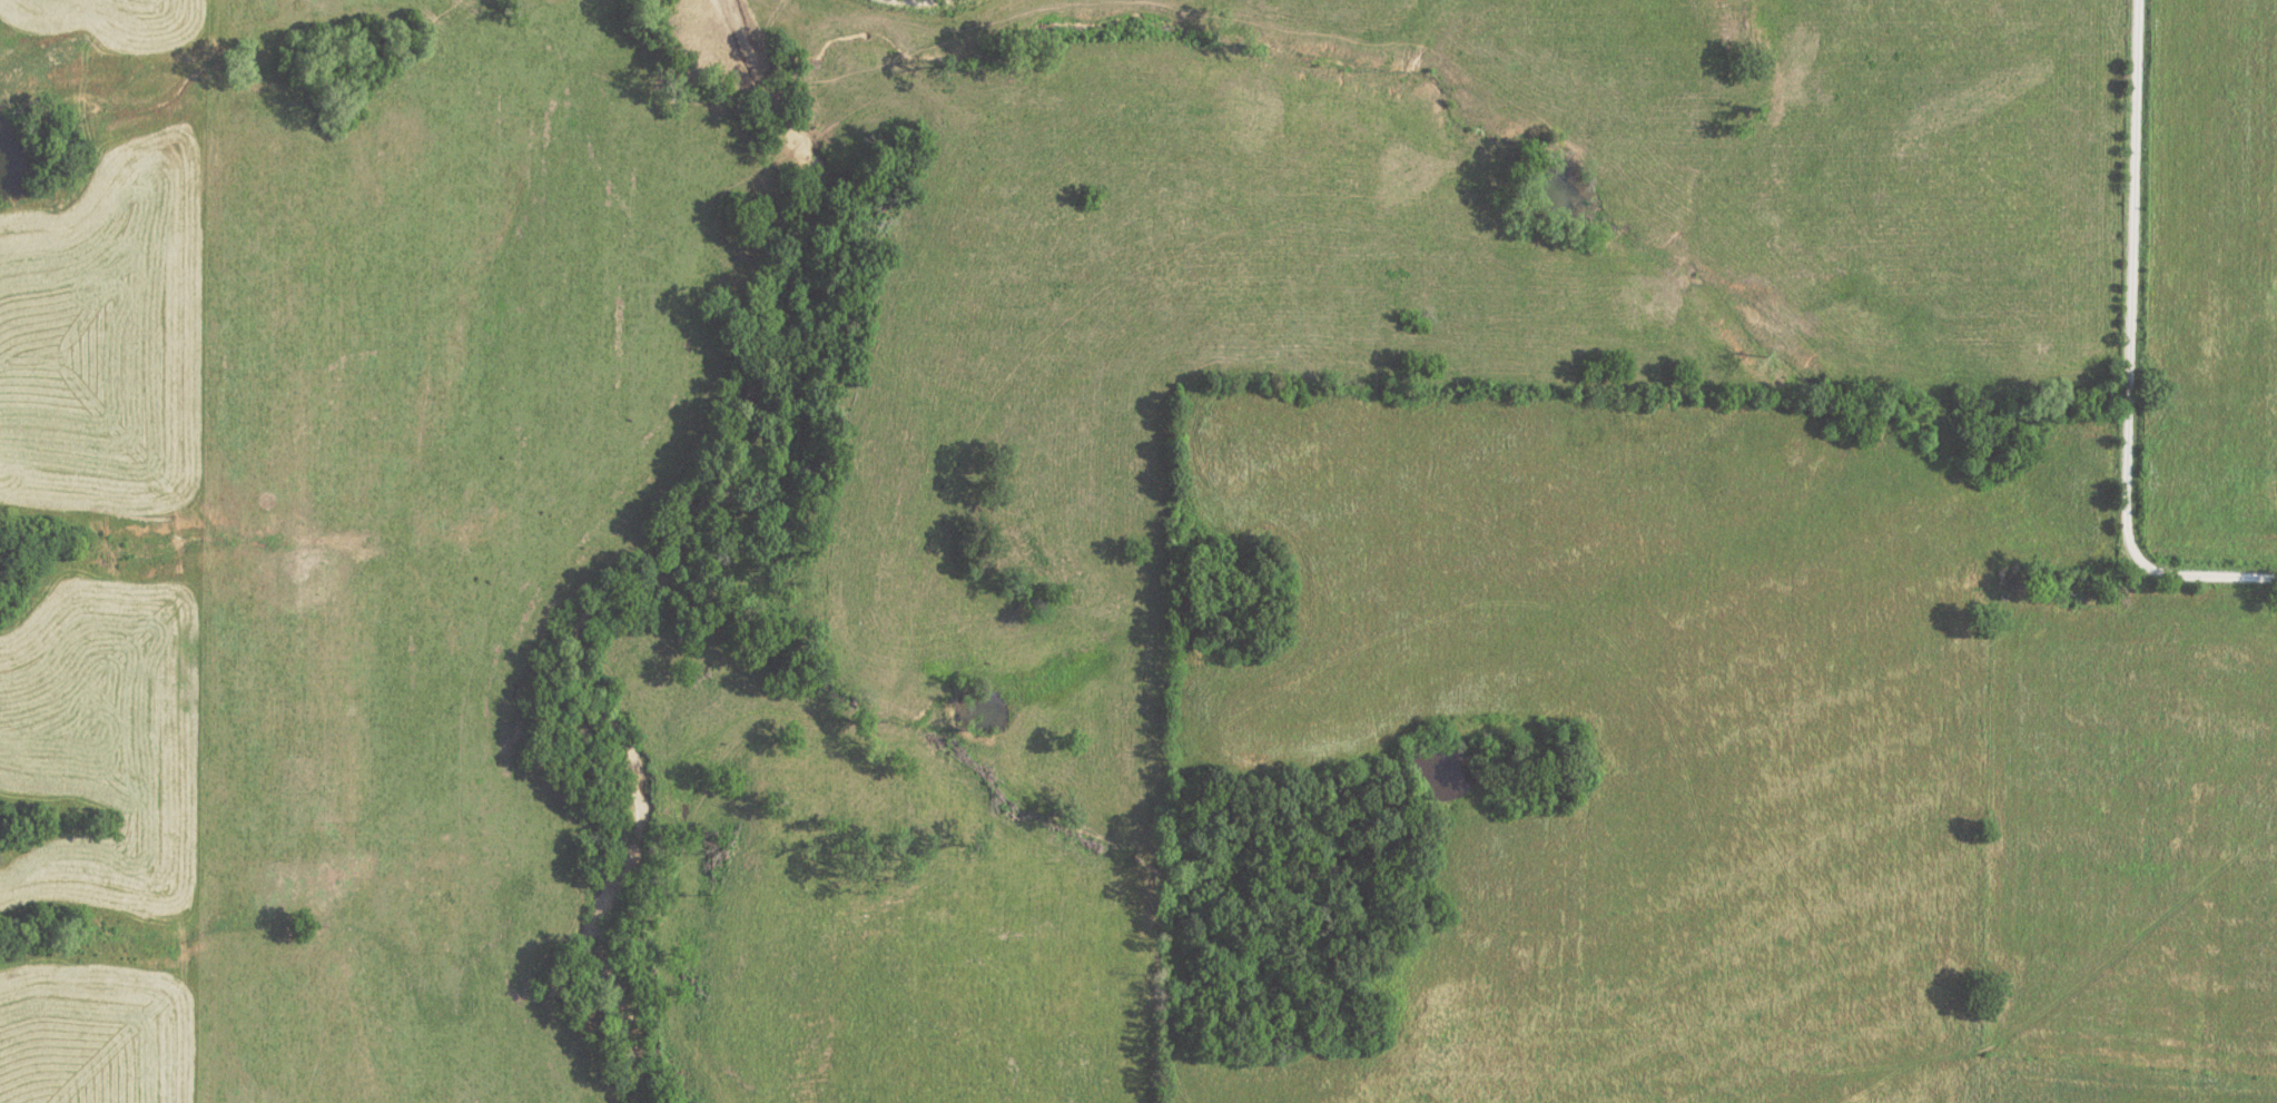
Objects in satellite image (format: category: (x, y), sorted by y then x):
road: (2127, 354)

